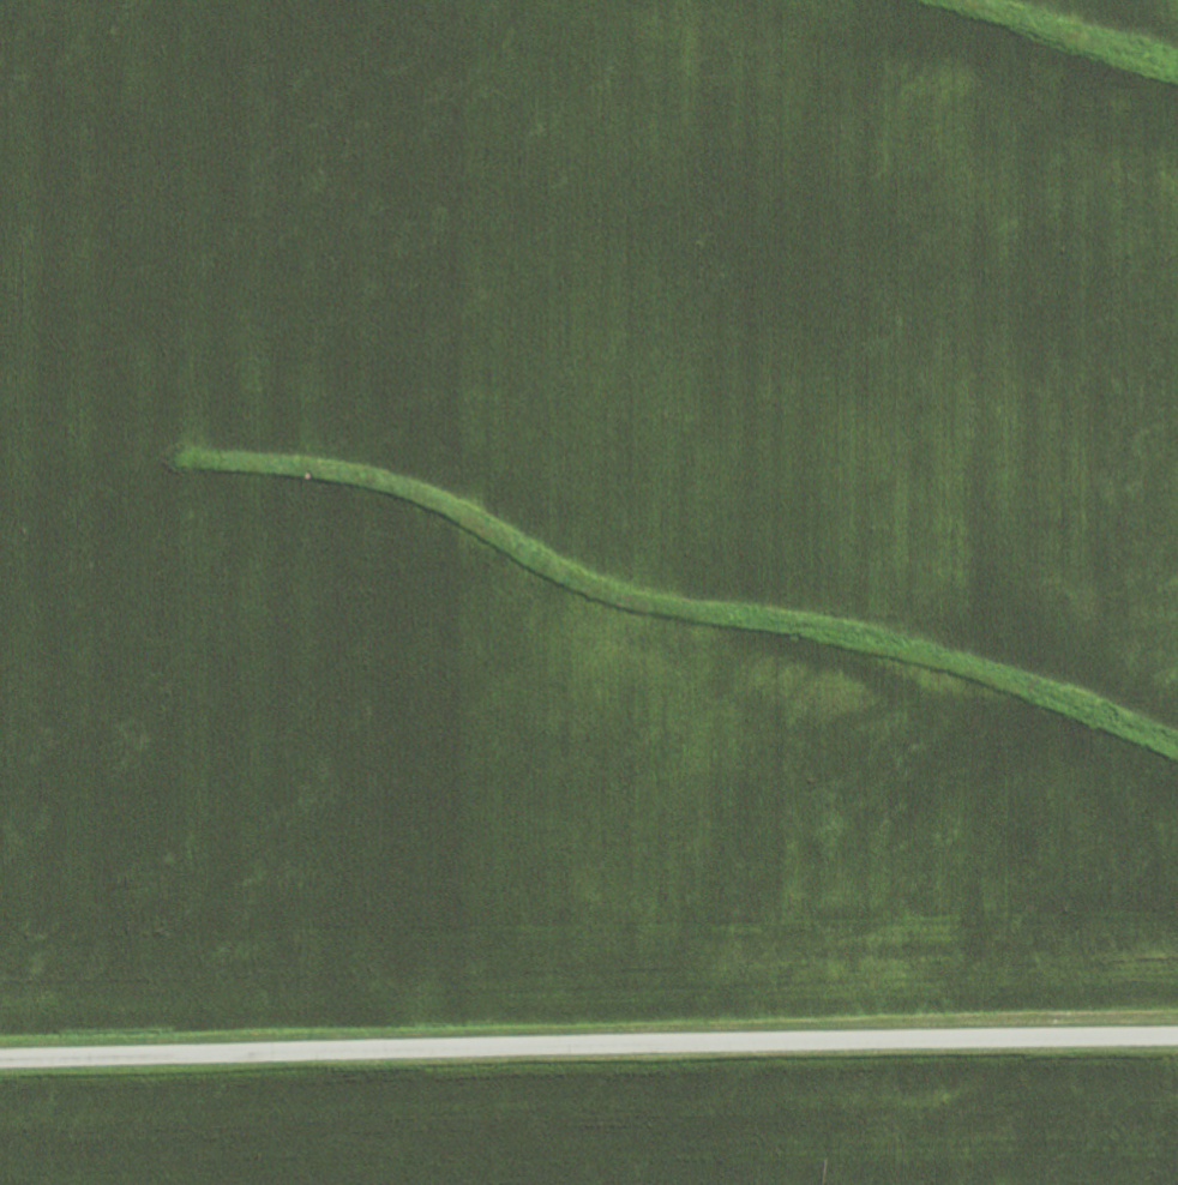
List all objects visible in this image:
road: (588, 1042)

